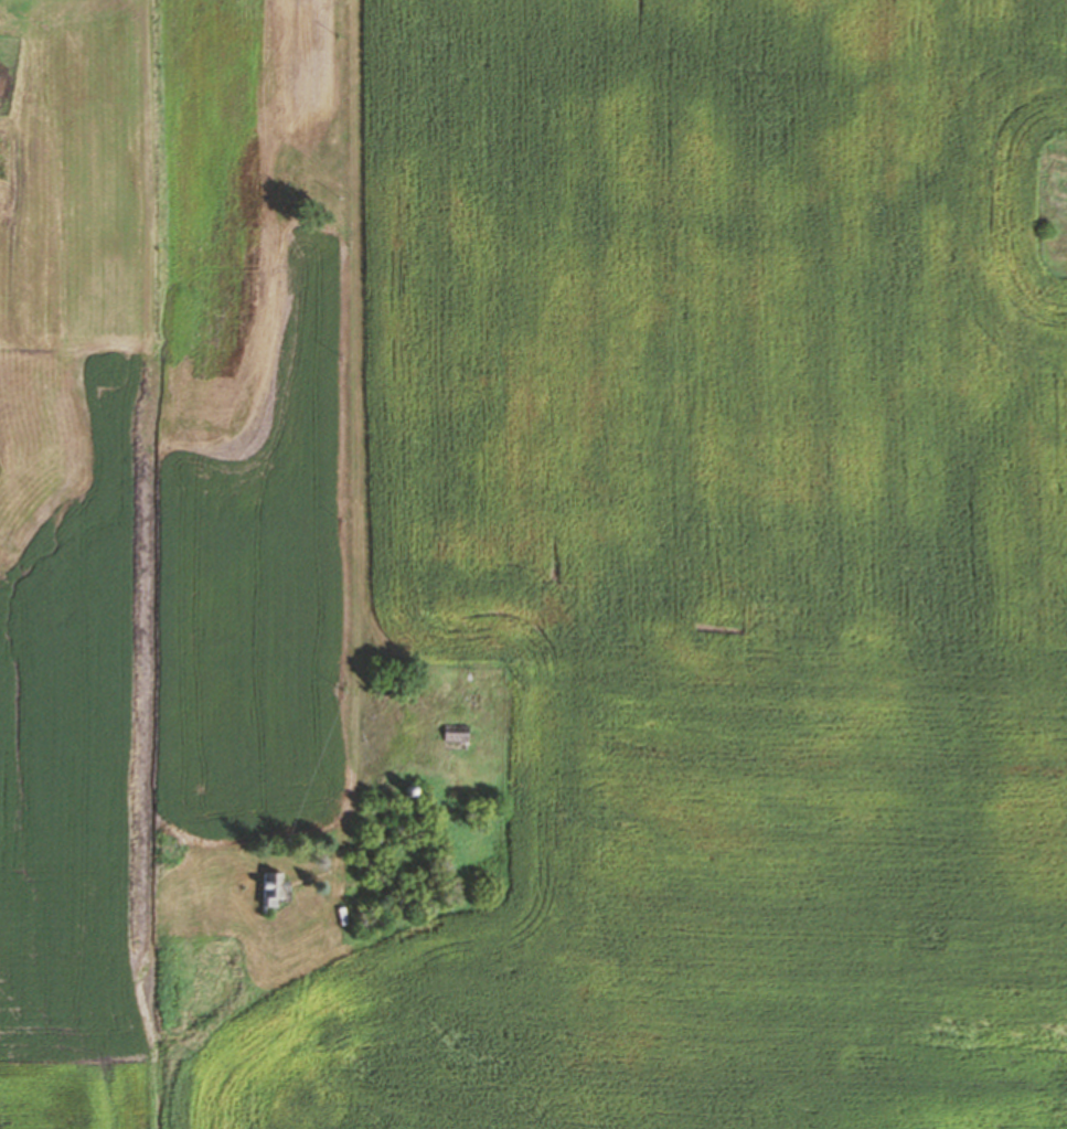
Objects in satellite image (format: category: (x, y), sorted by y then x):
road: (358, 447)
building: (452, 732)
building: (402, 790)
building: (269, 886)

